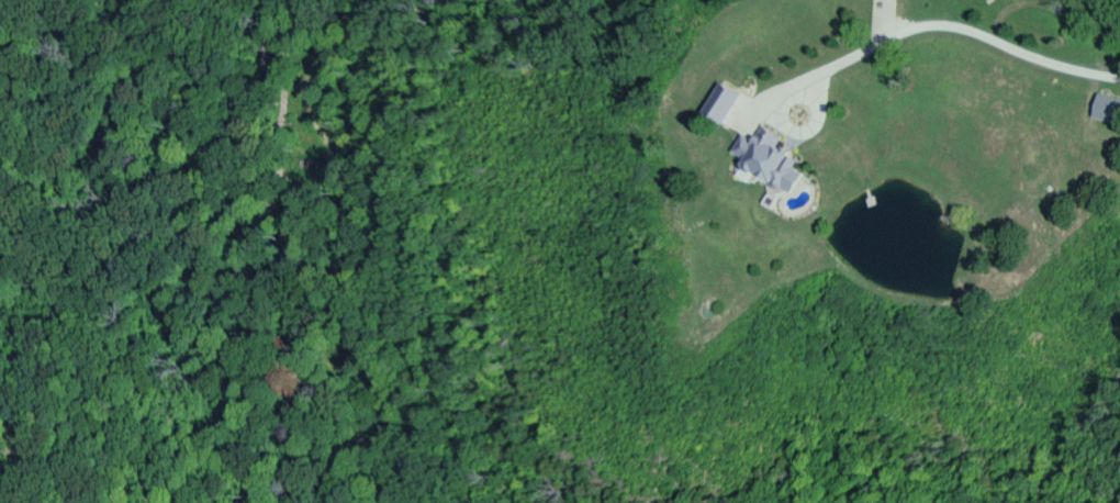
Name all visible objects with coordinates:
road: (947, 22)
building: (1107, 110)
building: (768, 159)

